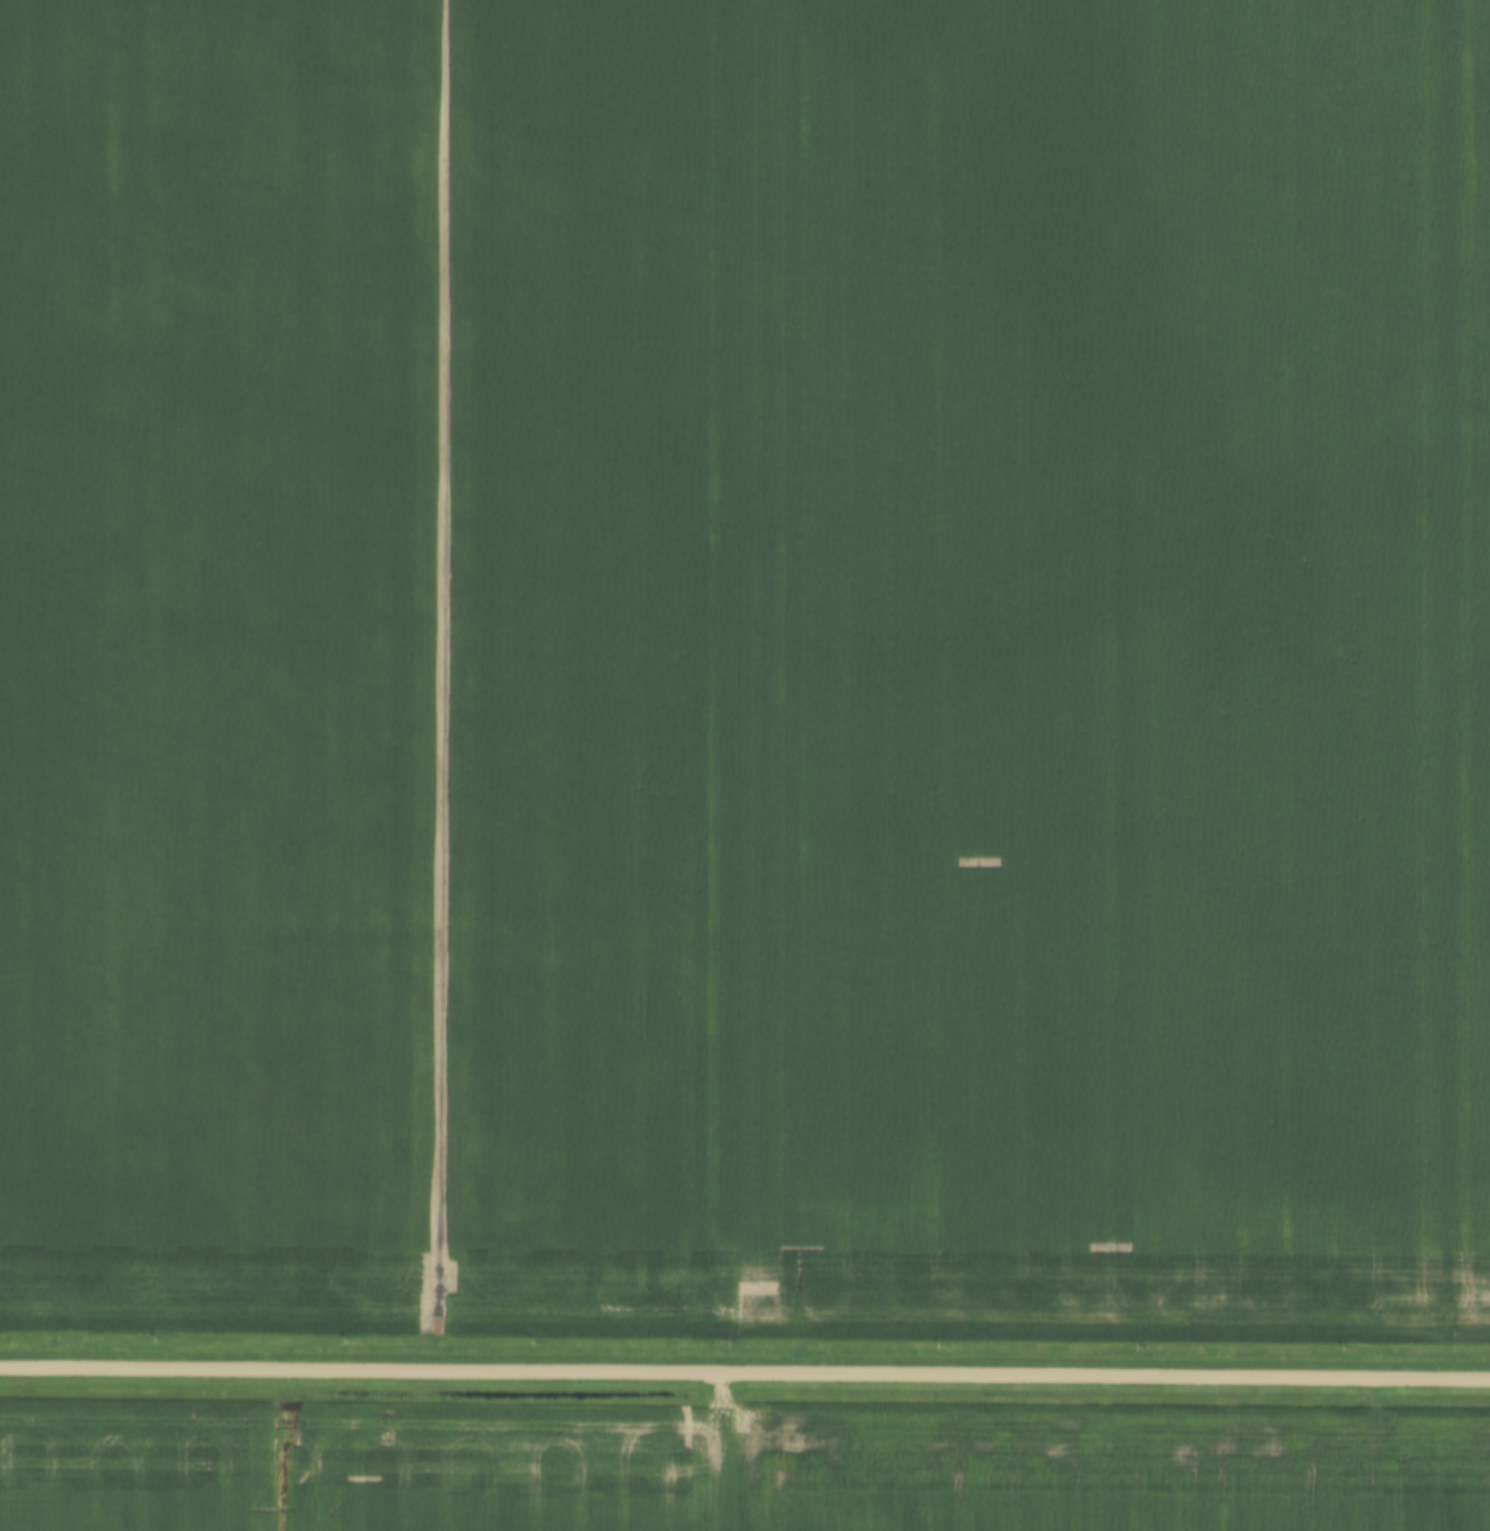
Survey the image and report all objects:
road: (744, 1376)

